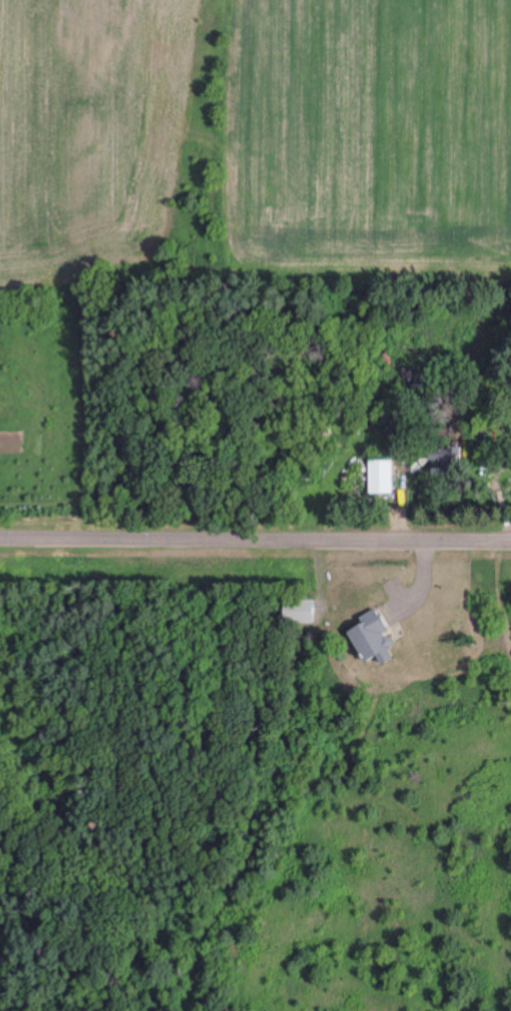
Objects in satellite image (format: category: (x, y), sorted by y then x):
building: (441, 455)
building: (378, 478)
road: (255, 536)
building: (299, 603)
building: (374, 631)

